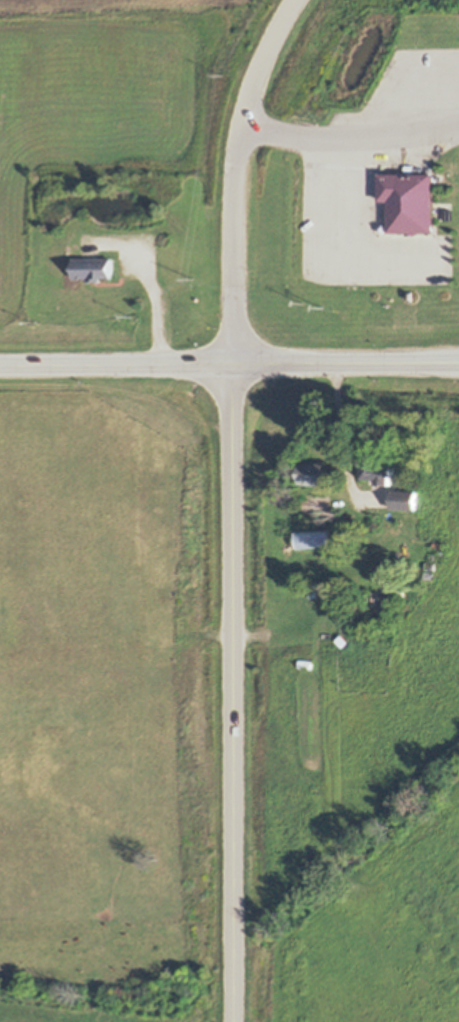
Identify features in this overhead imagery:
road: (350, 153)
road: (236, 175)
building: (412, 203)
building: (451, 217)
building: (94, 267)
road: (162, 308)
road: (229, 364)
road: (339, 435)
building: (379, 468)
building: (316, 473)
building: (406, 499)
building: (313, 538)
building: (372, 545)
building: (443, 552)
building: (393, 564)
building: (425, 574)
building: (401, 592)
building: (314, 593)
building: (344, 640)
building: (306, 663)
road: (236, 693)

